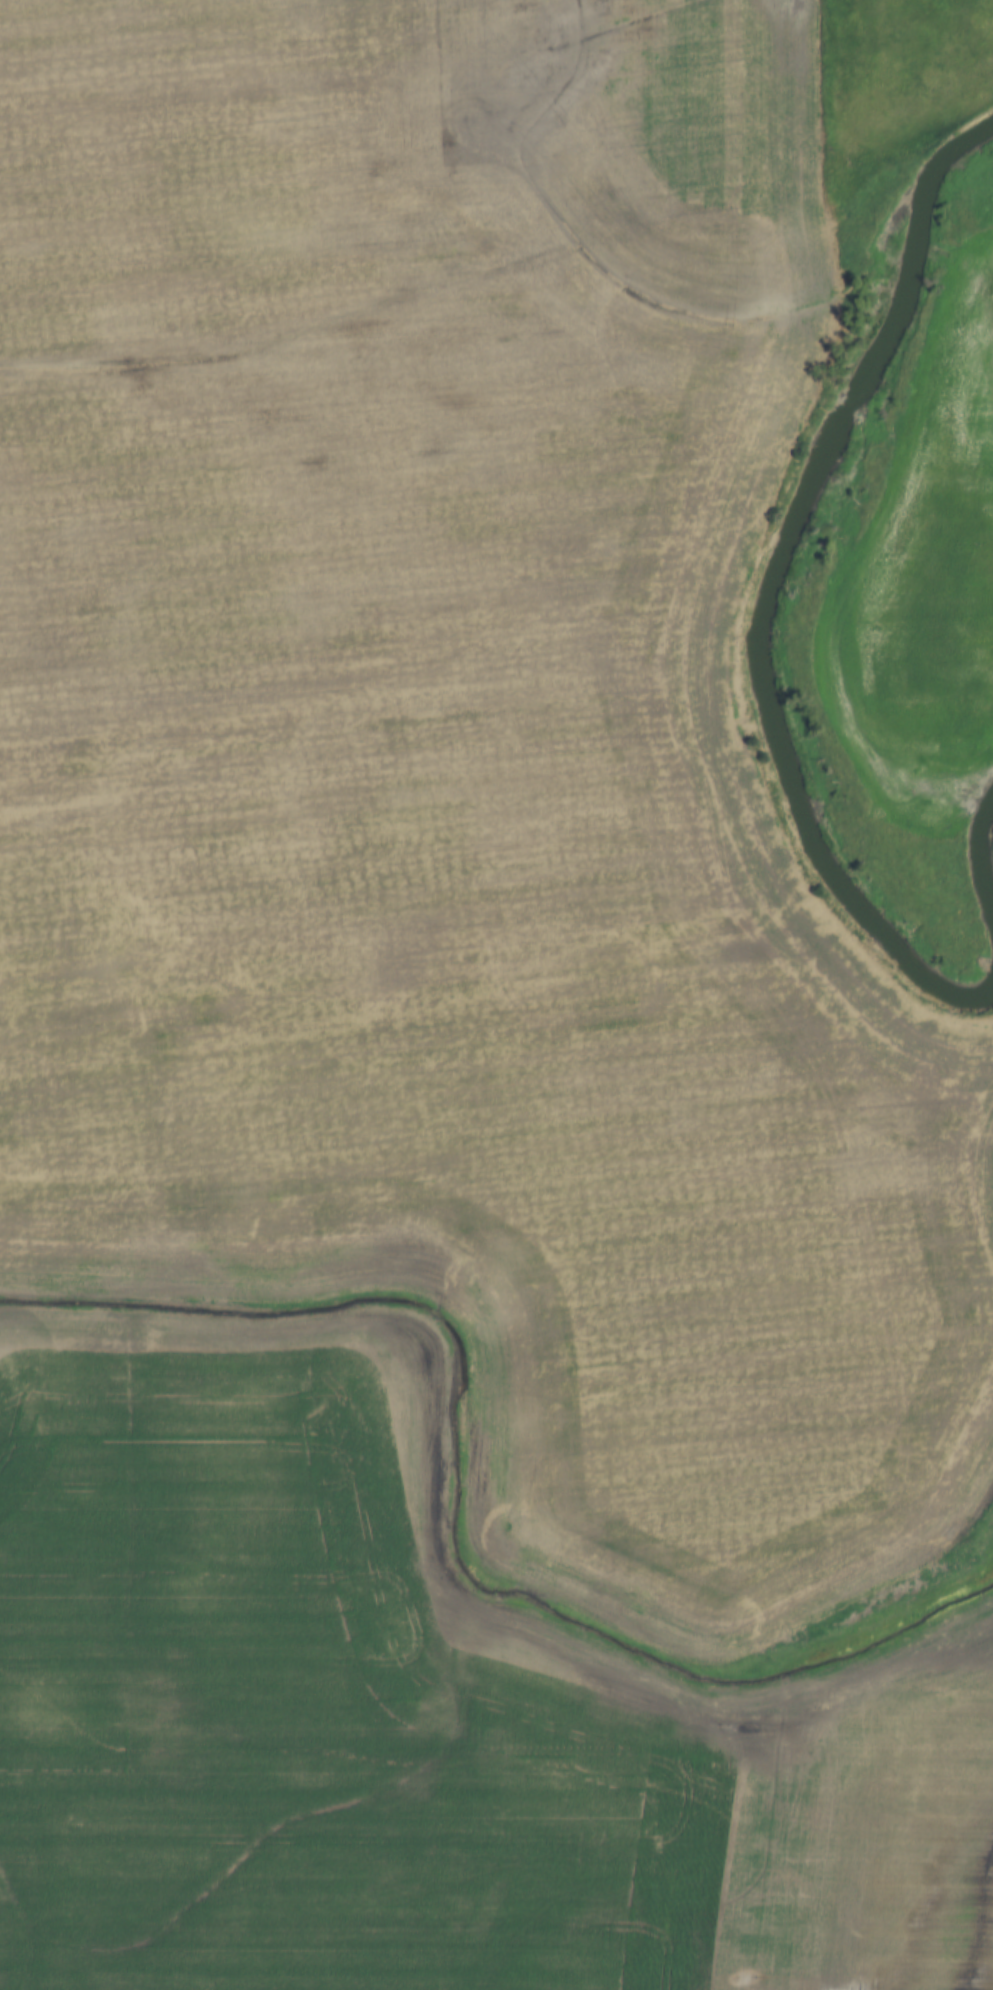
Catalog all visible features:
river: (771, 585)
river: (990, 863)

